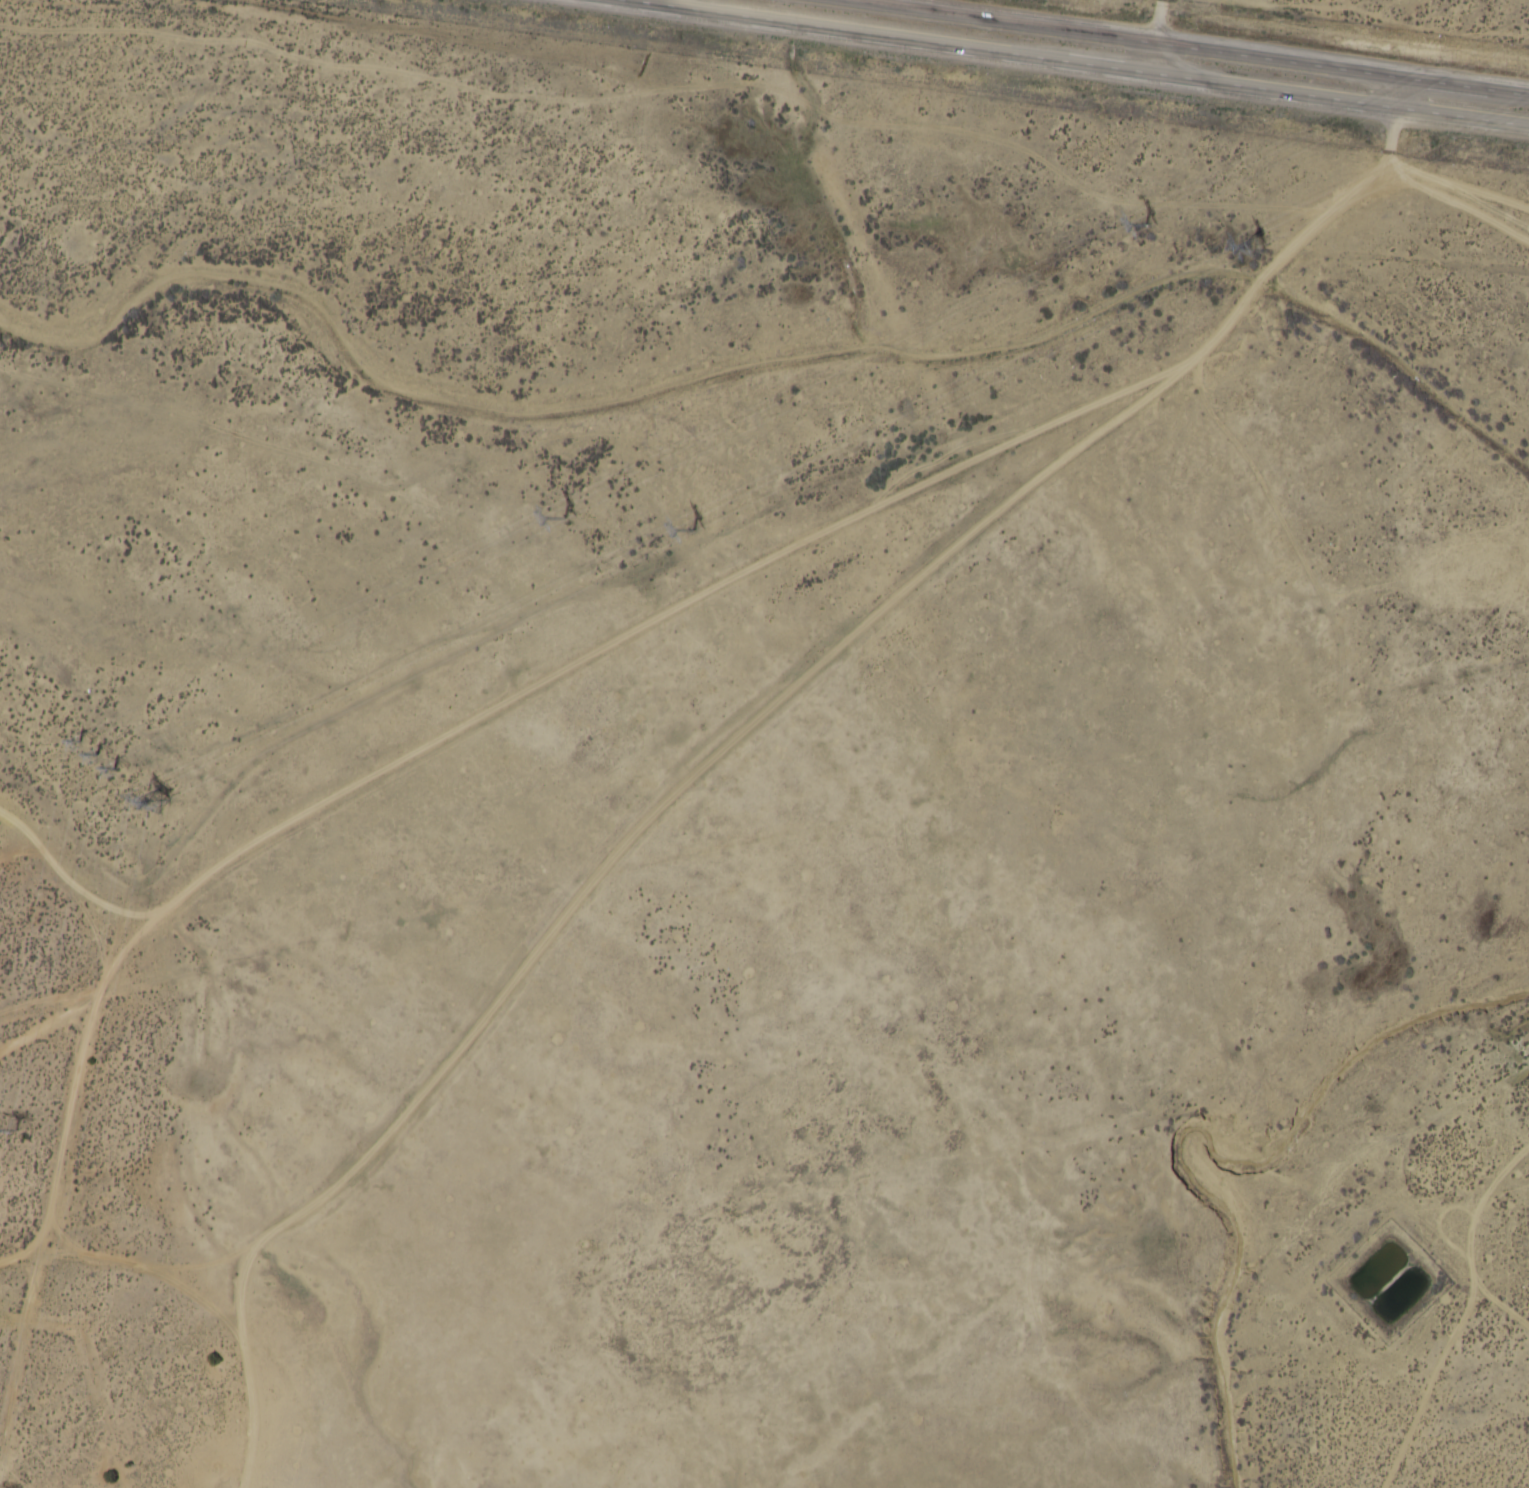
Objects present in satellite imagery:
road: (642, 0)
road: (1157, 35)
road: (1467, 41)
road: (1184, 47)
road: (1082, 62)
road: (1353, 199)
power tower: (1143, 226)
power tower: (1249, 248)
power tower: (560, 520)
power tower: (690, 532)
power tower: (94, 754)
power tower: (150, 803)
power tower: (10, 1132)
road: (1483, 1220)
road: (942, 1352)

